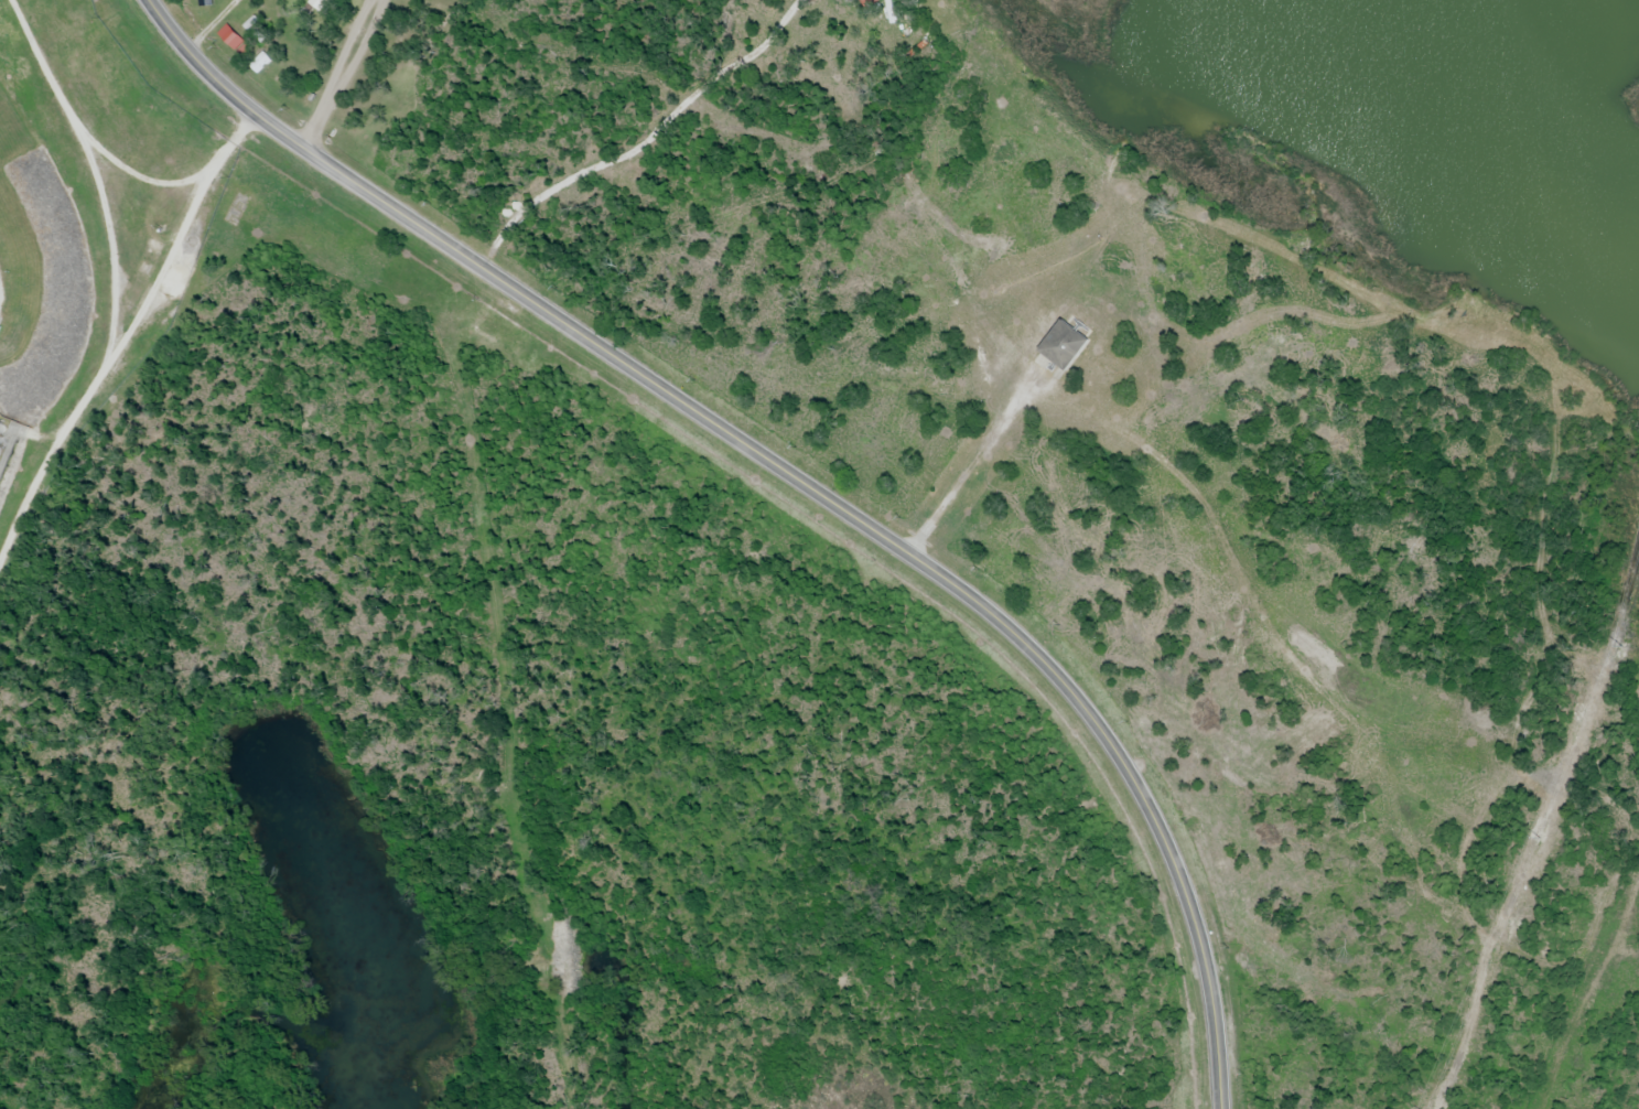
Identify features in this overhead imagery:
building: (236, 44)
road: (978, 64)
road: (339, 75)
road: (176, 240)
road: (115, 279)
dam: (66, 325)
building: (1, 333)
building: (1064, 347)
road: (796, 478)
power tower: (1618, 643)
road: (517, 721)
power tower: (1538, 839)
railway: (1586, 1016)

